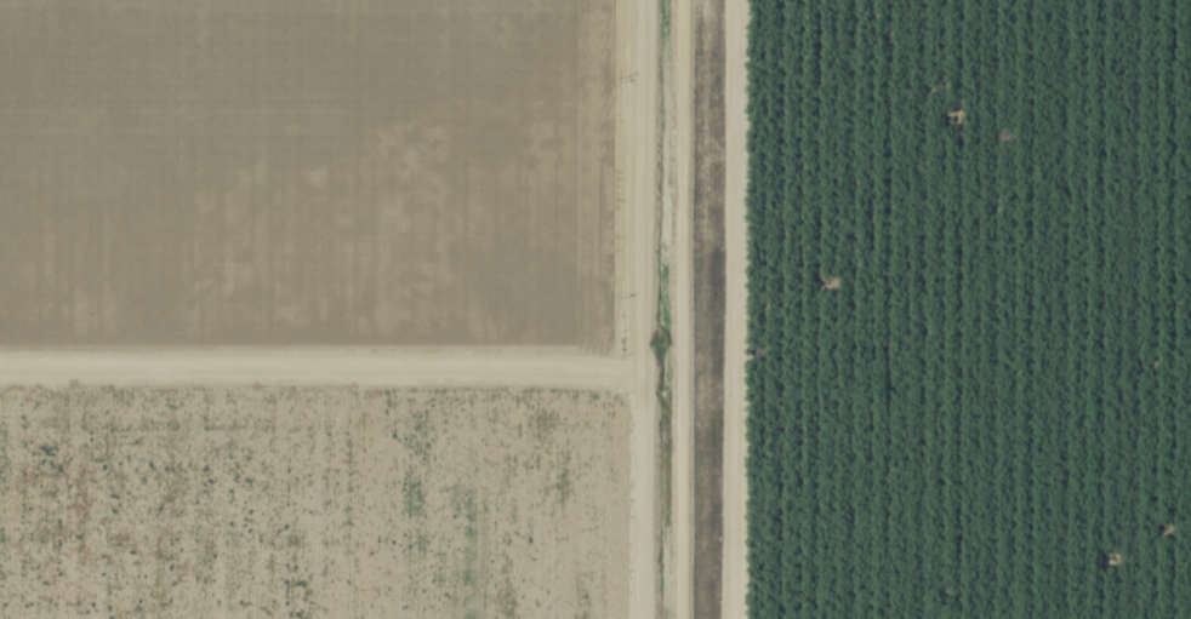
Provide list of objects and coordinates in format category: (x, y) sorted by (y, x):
road: (739, 309)
road: (369, 354)

